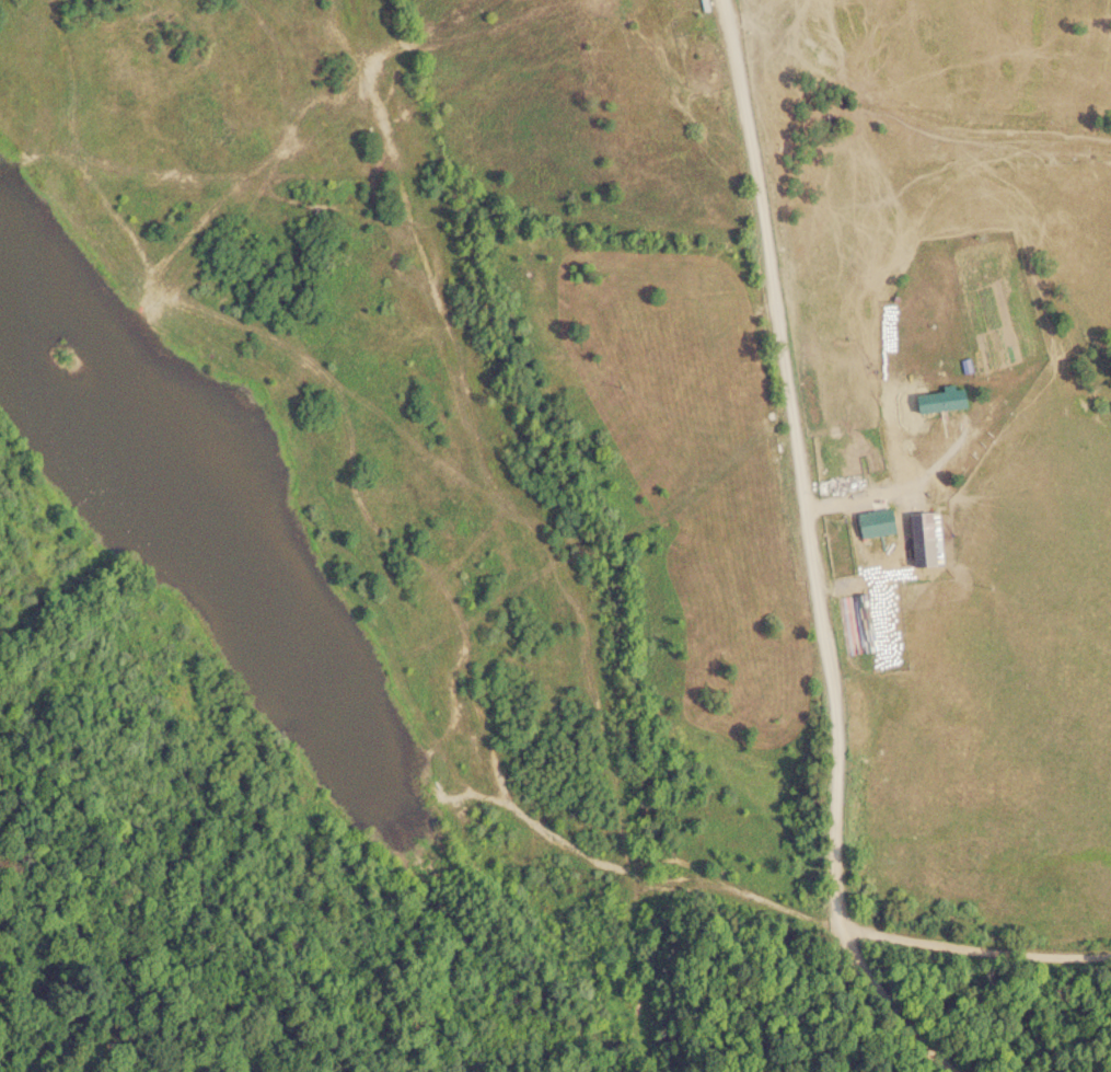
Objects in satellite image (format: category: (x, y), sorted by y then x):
road: (819, 551)
road: (1039, 1027)
road: (972, 1058)

